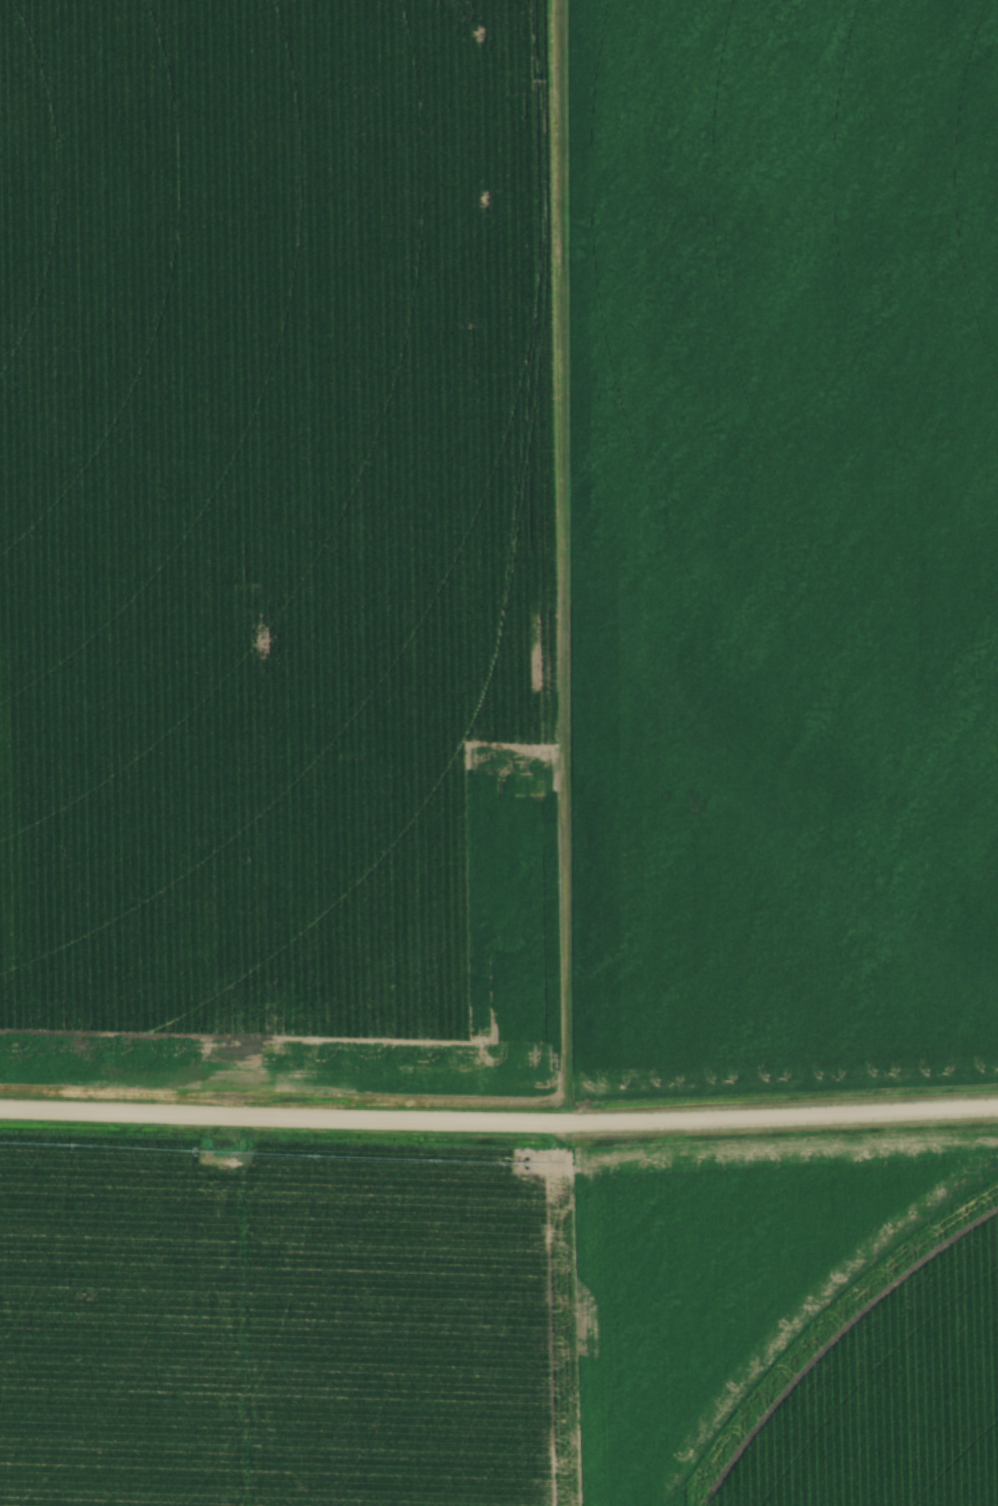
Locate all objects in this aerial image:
road: (499, 1128)

